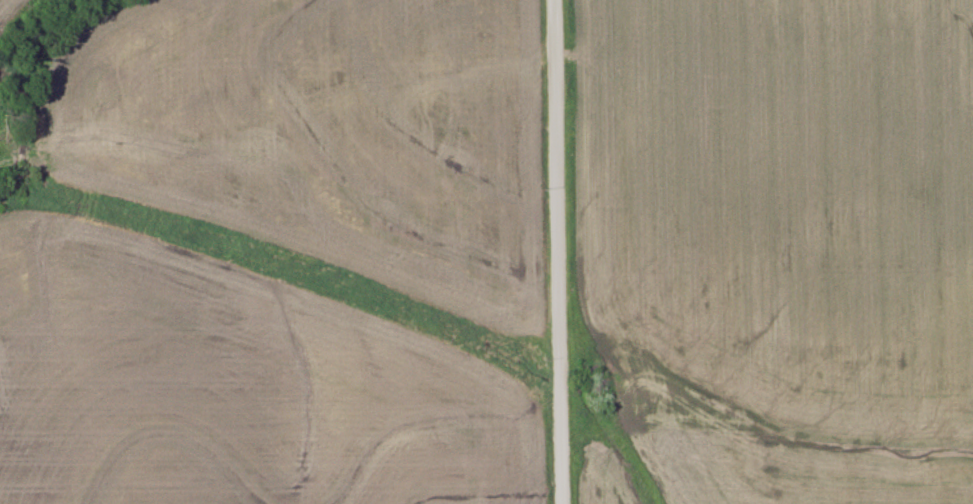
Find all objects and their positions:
road: (559, 251)

